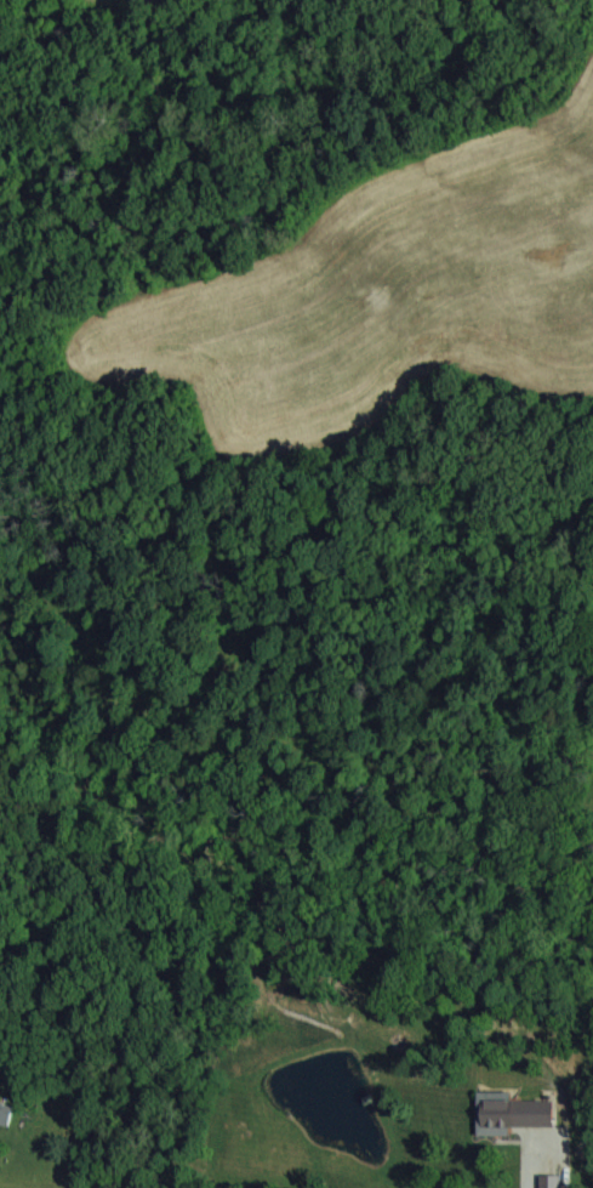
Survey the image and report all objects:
building: (4, 1115)
building: (512, 1116)
road: (544, 1144)
building: (547, 1182)

